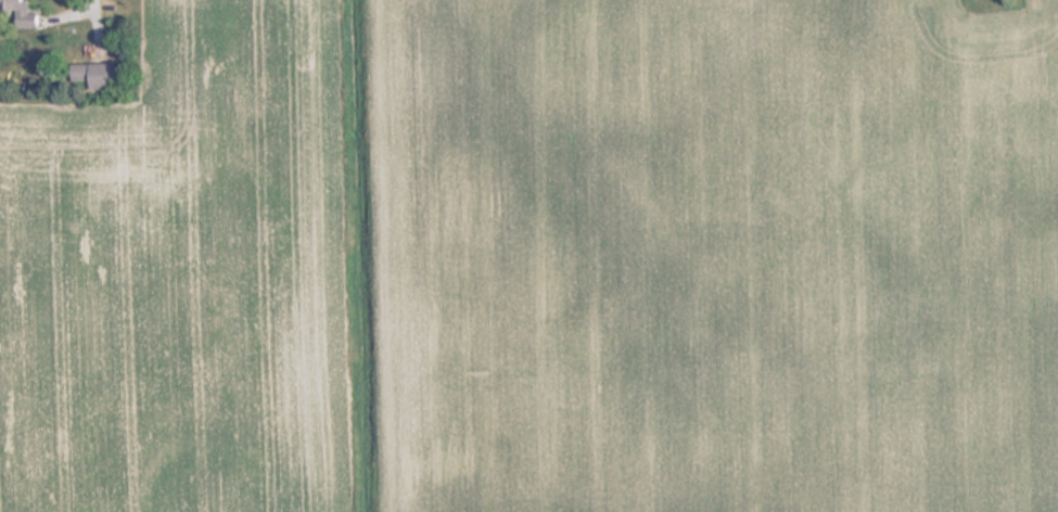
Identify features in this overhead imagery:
building: (22, 14)
building: (98, 77)

